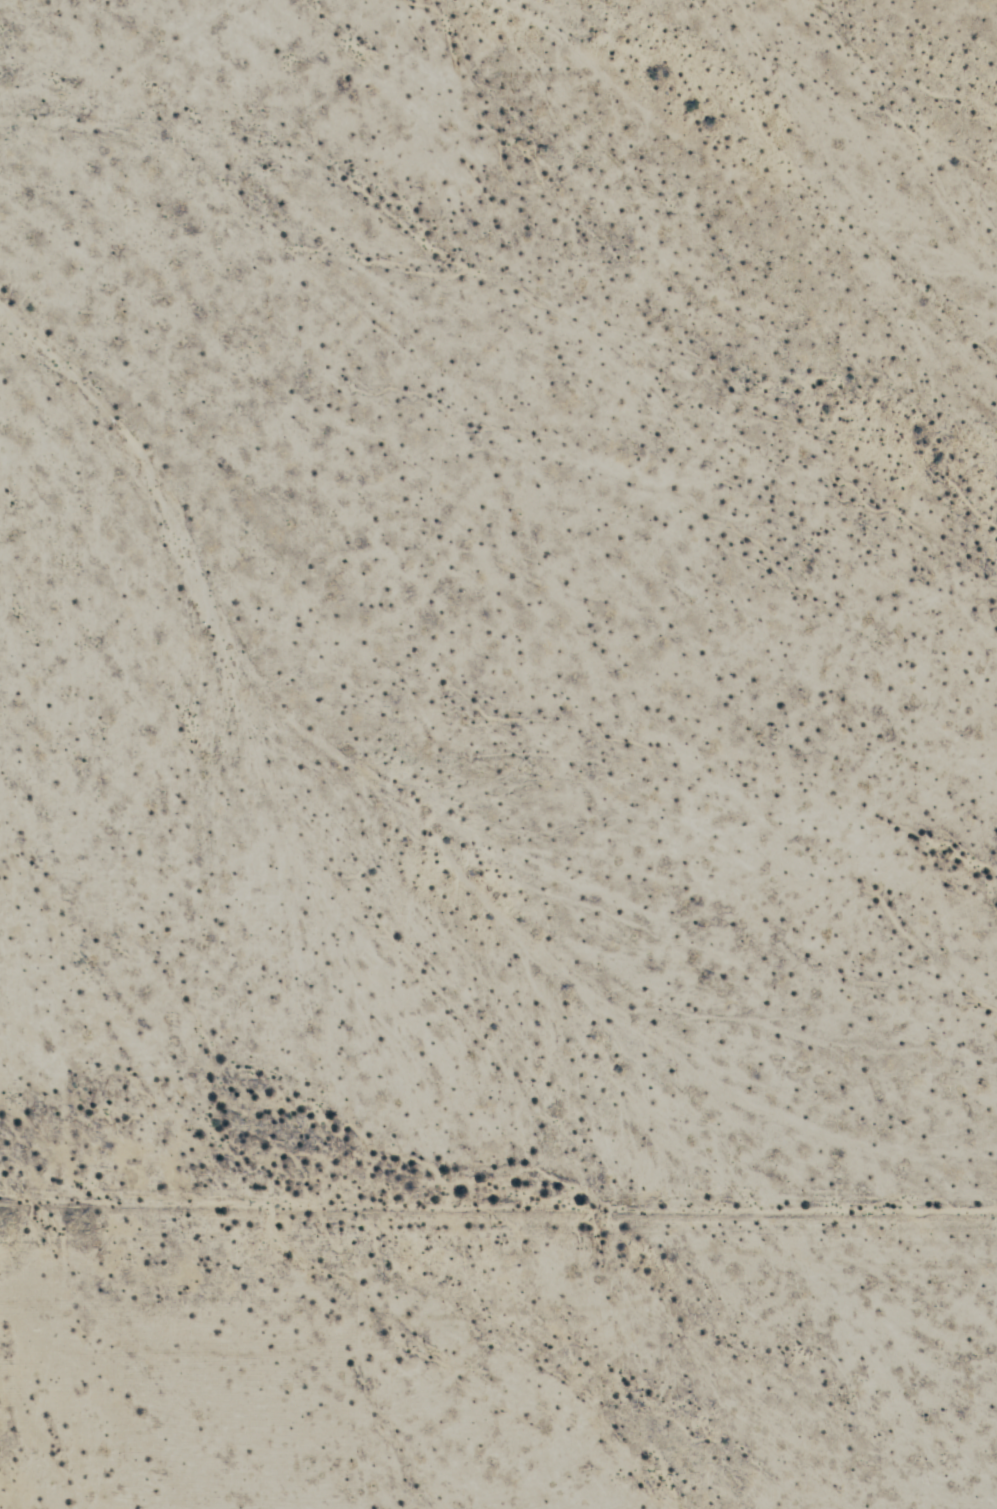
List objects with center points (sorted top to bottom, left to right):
road: (498, 1214)

